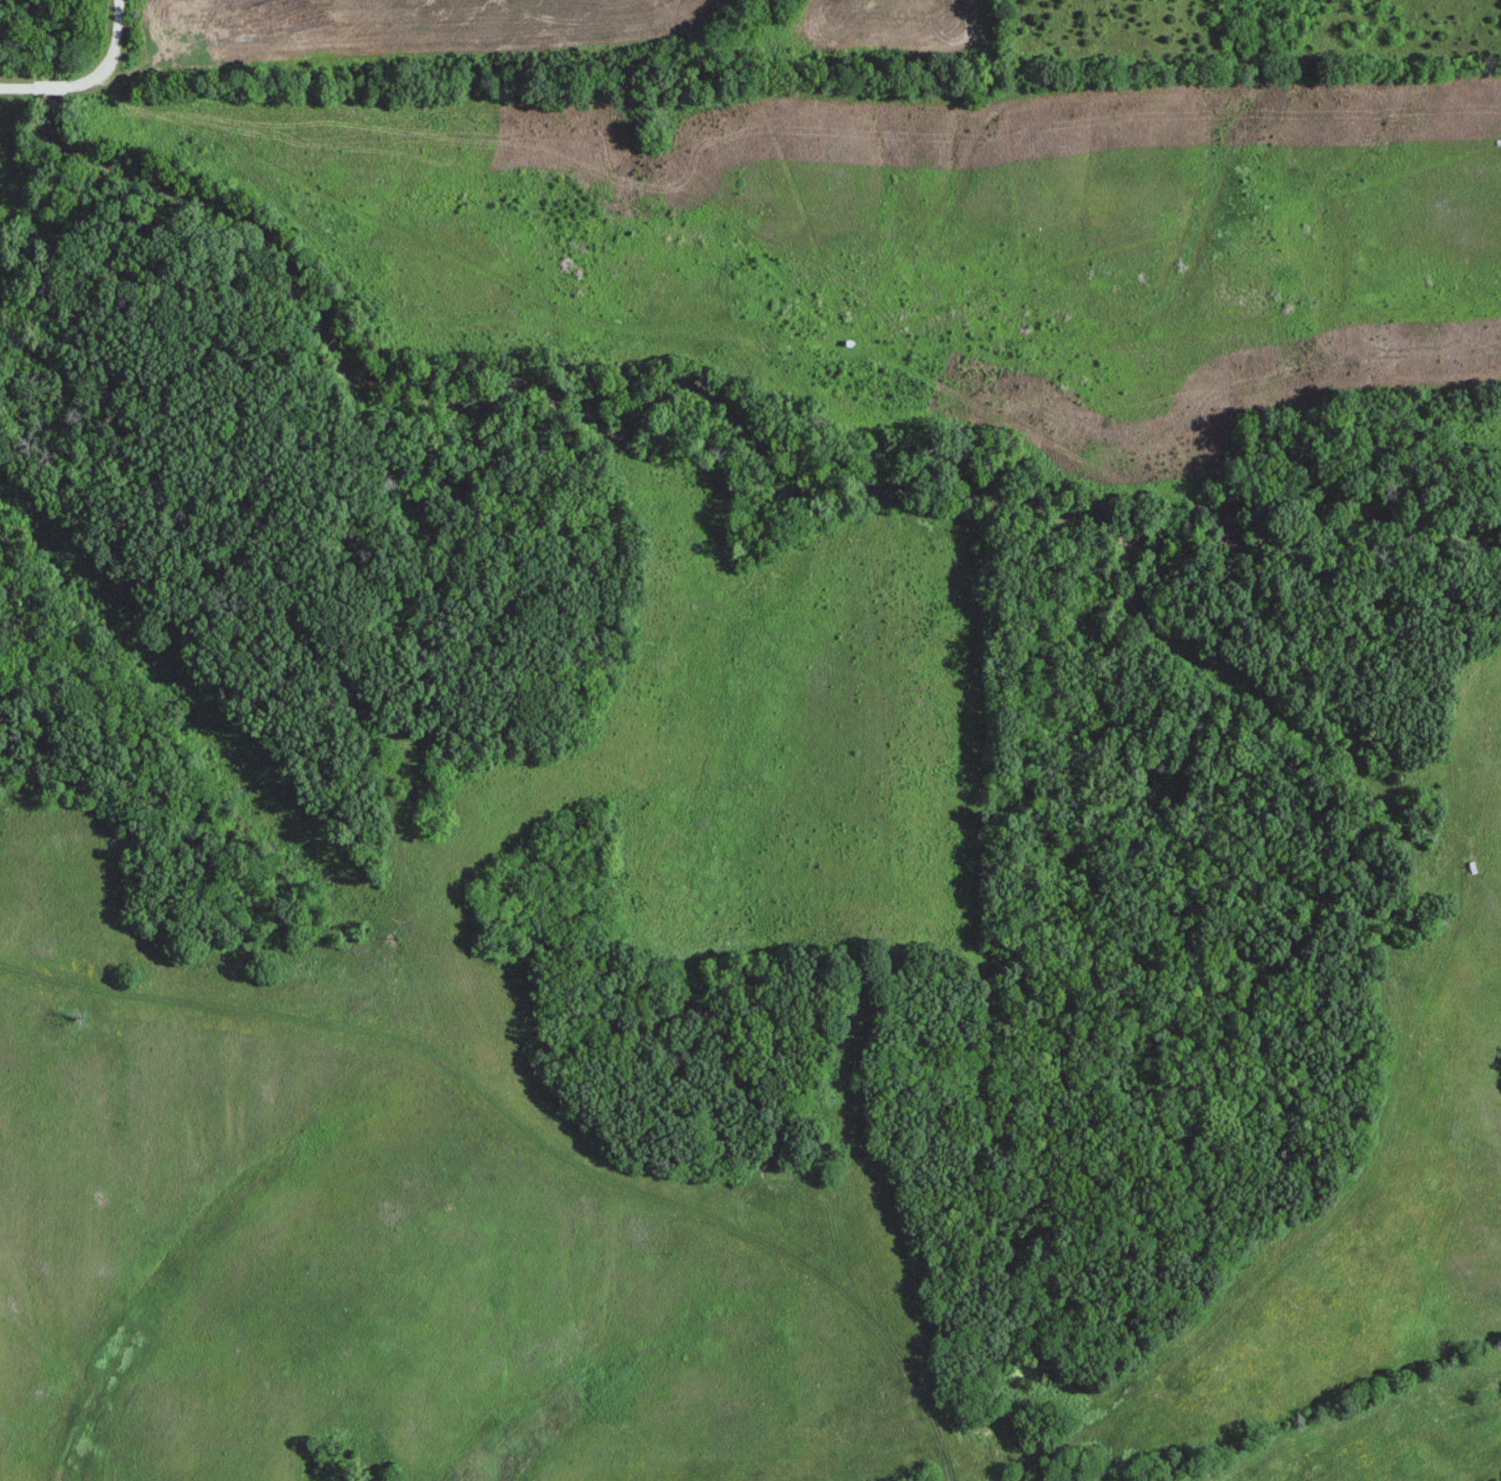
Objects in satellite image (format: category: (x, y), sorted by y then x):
road: (88, 77)

